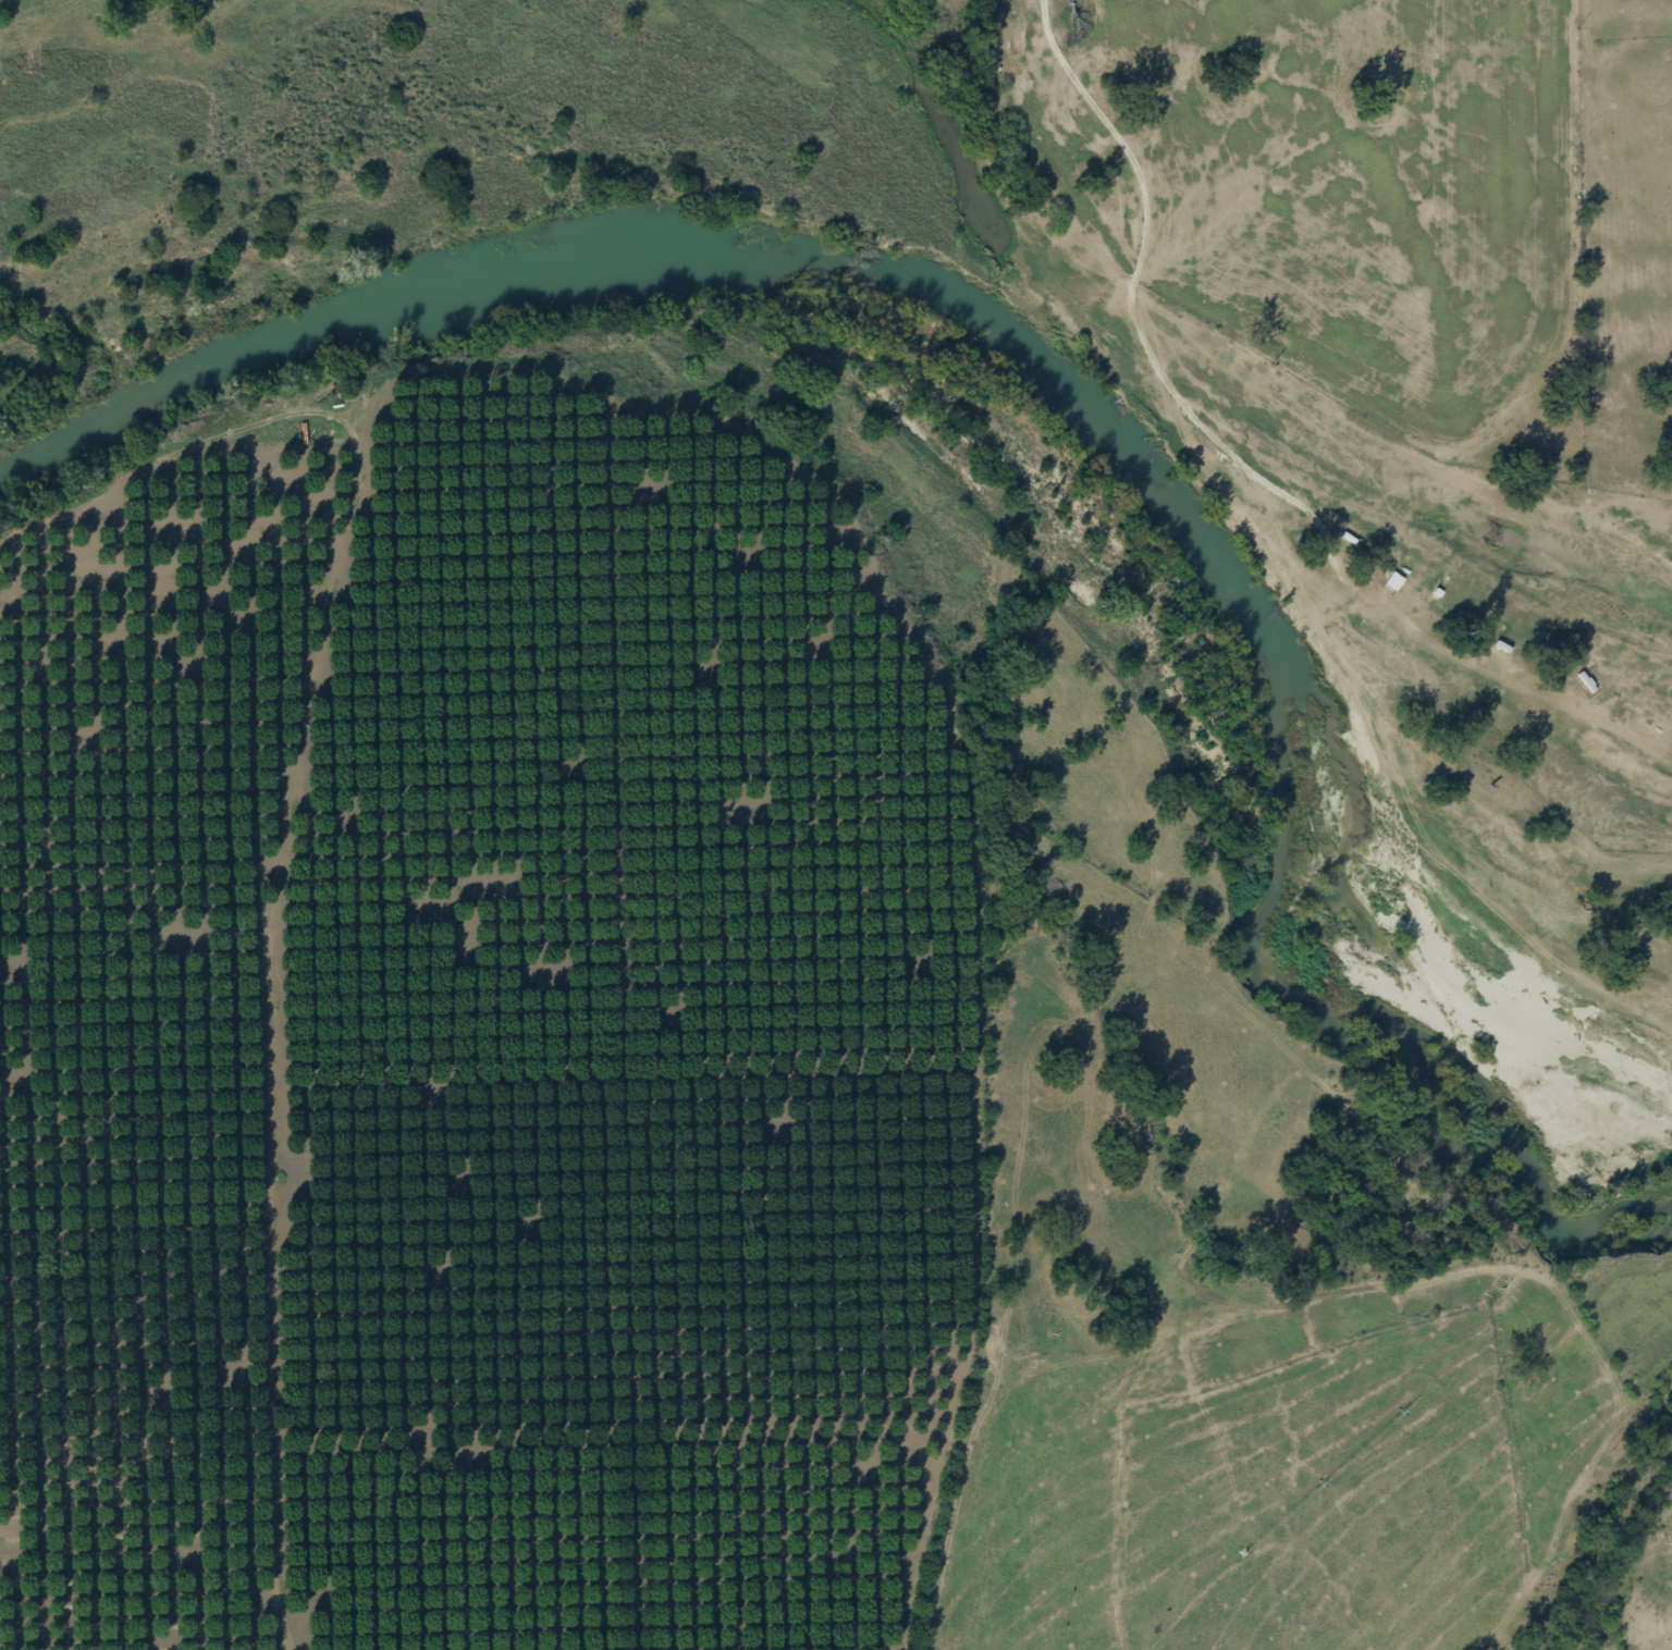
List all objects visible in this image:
river: (1060, 387)

